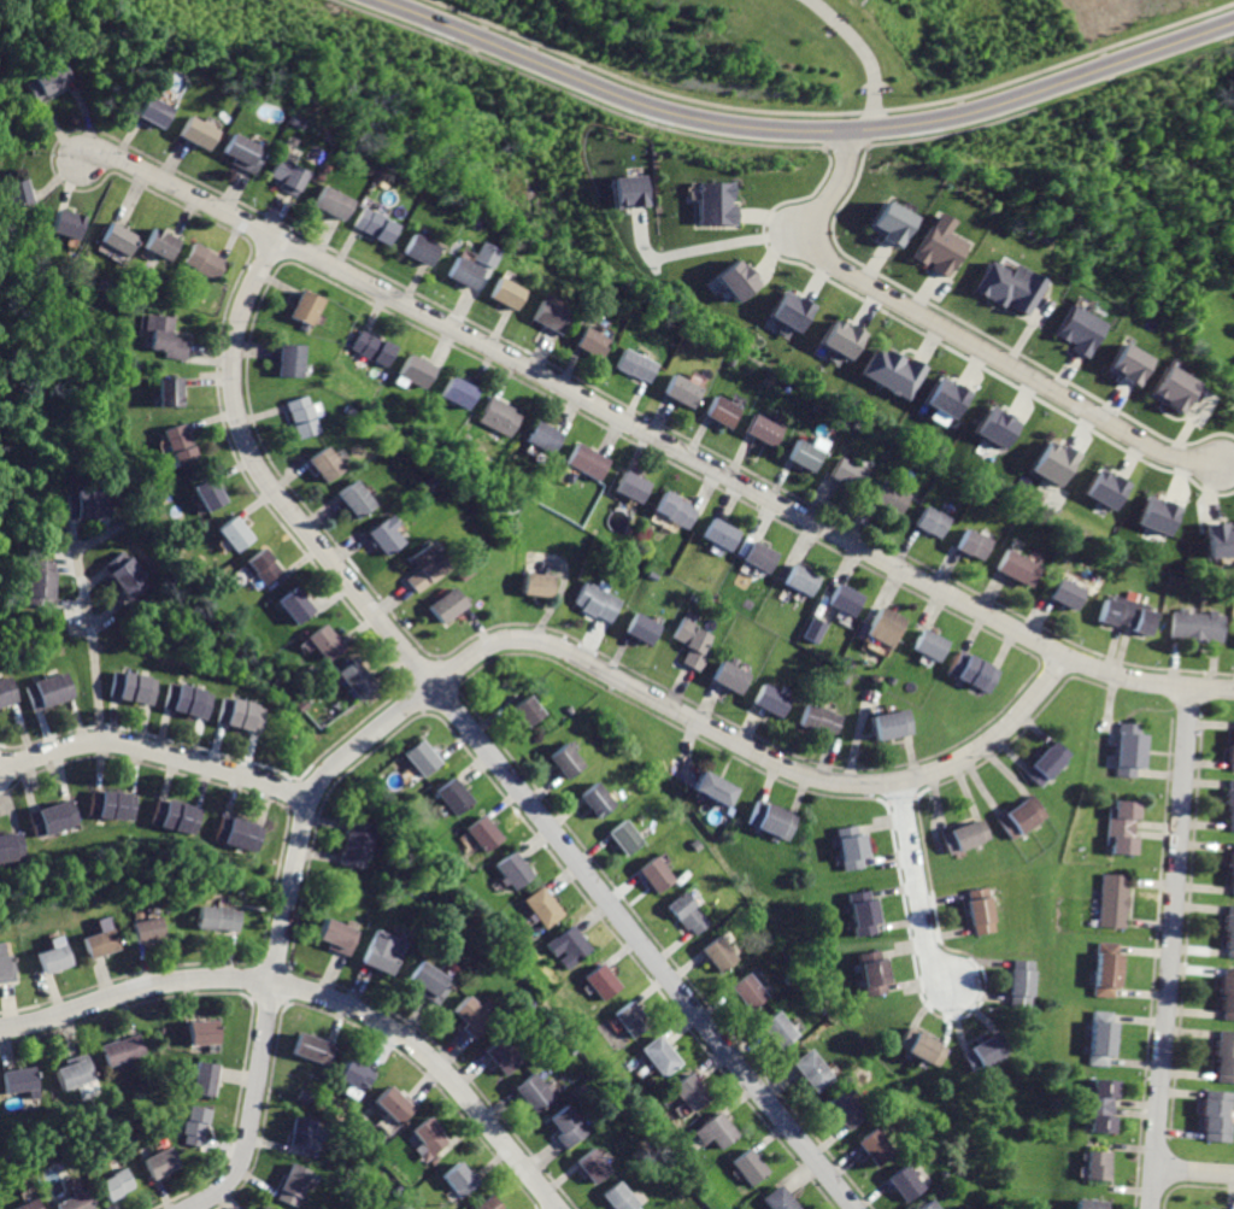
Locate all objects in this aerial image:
road: (860, 54)
building: (47, 80)
building: (155, 111)
road: (806, 131)
building: (199, 133)
building: (243, 154)
building: (287, 176)
road: (834, 189)
building: (633, 190)
building: (18, 194)
building: (330, 203)
building: (718, 203)
building: (67, 223)
building: (889, 223)
building: (371, 227)
building: (119, 237)
building: (164, 242)
building: (935, 245)
road: (701, 247)
building: (416, 248)
building: (483, 253)
building: (206, 260)
building: (462, 271)
building: (738, 278)
building: (1003, 284)
building: (503, 293)
building: (302, 307)
building: (792, 309)
building: (548, 317)
building: (1075, 329)
building: (166, 336)
building: (844, 338)
building: (590, 342)
building: (369, 348)
building: (288, 359)
road: (1004, 362)
building: (1124, 362)
building: (637, 364)
building: (413, 371)
building: (893, 371)
building: (683, 388)
building: (1171, 388)
building: (172, 392)
building: (454, 393)
building: (947, 397)
building: (723, 411)
building: (300, 416)
building: (494, 416)
building: (995, 424)
building: (766, 428)
road: (653, 436)
building: (539, 438)
building: (183, 446)
building: (806, 453)
building: (583, 460)
building: (1052, 460)
building: (323, 463)
building: (848, 474)
building: (631, 487)
building: (1104, 487)
building: (212, 494)
building: (892, 498)
building: (353, 499)
building: (88, 504)
building: (672, 511)
building: (1157, 513)
building: (933, 521)
road: (75, 533)
building: (237, 533)
building: (721, 533)
building: (382, 534)
road: (98, 536)
building: (1218, 538)
building: (976, 544)
building: (759, 554)
road: (66, 568)
building: (264, 568)
building: (1018, 568)
building: (422, 569)
building: (125, 575)
road: (94, 577)
building: (804, 581)
building: (39, 582)
building: (531, 585)
building: (1065, 588)
building: (846, 599)
road: (69, 603)
building: (597, 603)
building: (443, 604)
building: (298, 605)
road: (107, 611)
building: (1128, 614)
building: (1198, 624)
building: (887, 626)
building: (644, 628)
building: (816, 629)
road: (92, 644)
building: (327, 644)
building: (694, 644)
building: (930, 644)
road: (480, 648)
building: (975, 671)
building: (731, 677)
building: (354, 680)
building: (131, 688)
building: (48, 691)
building: (6, 692)
building: (775, 700)
building: (187, 702)
building: (524, 712)
building: (240, 716)
building: (821, 720)
building: (893, 726)
road: (478, 745)
road: (155, 751)
building: (1232, 752)
building: (1129, 755)
building: (418, 759)
building: (562, 763)
building: (1048, 764)
building: (713, 791)
building: (452, 797)
building: (594, 800)
building: (111, 805)
building: (1230, 806)
building: (175, 817)
building: (52, 818)
building: (1021, 818)
building: (774, 822)
building: (1123, 827)
building: (237, 834)
building: (480, 834)
building: (622, 838)
building: (968, 838)
building: (357, 844)
building: (12, 846)
building: (851, 849)
building: (511, 871)
building: (1232, 871)
building: (653, 874)
road: (918, 888)
building: (1113, 900)
building: (541, 906)
building: (982, 911)
building: (863, 912)
building: (687, 914)
building: (218, 920)
building: (149, 931)
building: (1229, 932)
building: (336, 938)
building: (102, 944)
building: (568, 946)
road: (1171, 947)
building: (381, 953)
building: (719, 956)
building: (55, 959)
building: (8, 969)
building: (1106, 974)
building: (870, 975)
building: (599, 982)
building: (1023, 982)
building: (428, 985)
building: (748, 992)
road: (318, 994)
building: (1226, 994)
building: (469, 1017)
building: (629, 1022)
building: (778, 1031)
building: (202, 1032)
building: (1100, 1039)
building: (923, 1047)
building: (315, 1050)
building: (123, 1051)
building: (987, 1051)
building: (659, 1056)
building: (501, 1057)
building: (1224, 1057)
building: (811, 1070)
building: (75, 1072)
building: (354, 1075)
building: (202, 1079)
building: (17, 1081)
building: (689, 1092)
building: (533, 1093)
building: (393, 1107)
building: (1099, 1108)
building: (844, 1110)
building: (1216, 1116)
building: (194, 1126)
building: (566, 1127)
building: (715, 1131)
building: (302, 1134)
building: (429, 1138)
building: (871, 1148)
building: (160, 1164)
building: (592, 1166)
building: (1098, 1166)
building: (747, 1167)
road: (1194, 1170)
building: (460, 1179)
building: (904, 1184)
building: (113, 1185)
building: (294, 1187)
building: (619, 1197)
building: (776, 1198)
building: (76, 1203)
building: (487, 1204)
building: (1092, 1204)
building: (30, 1205)
building: (927, 1207)
building: (264, 1208)

